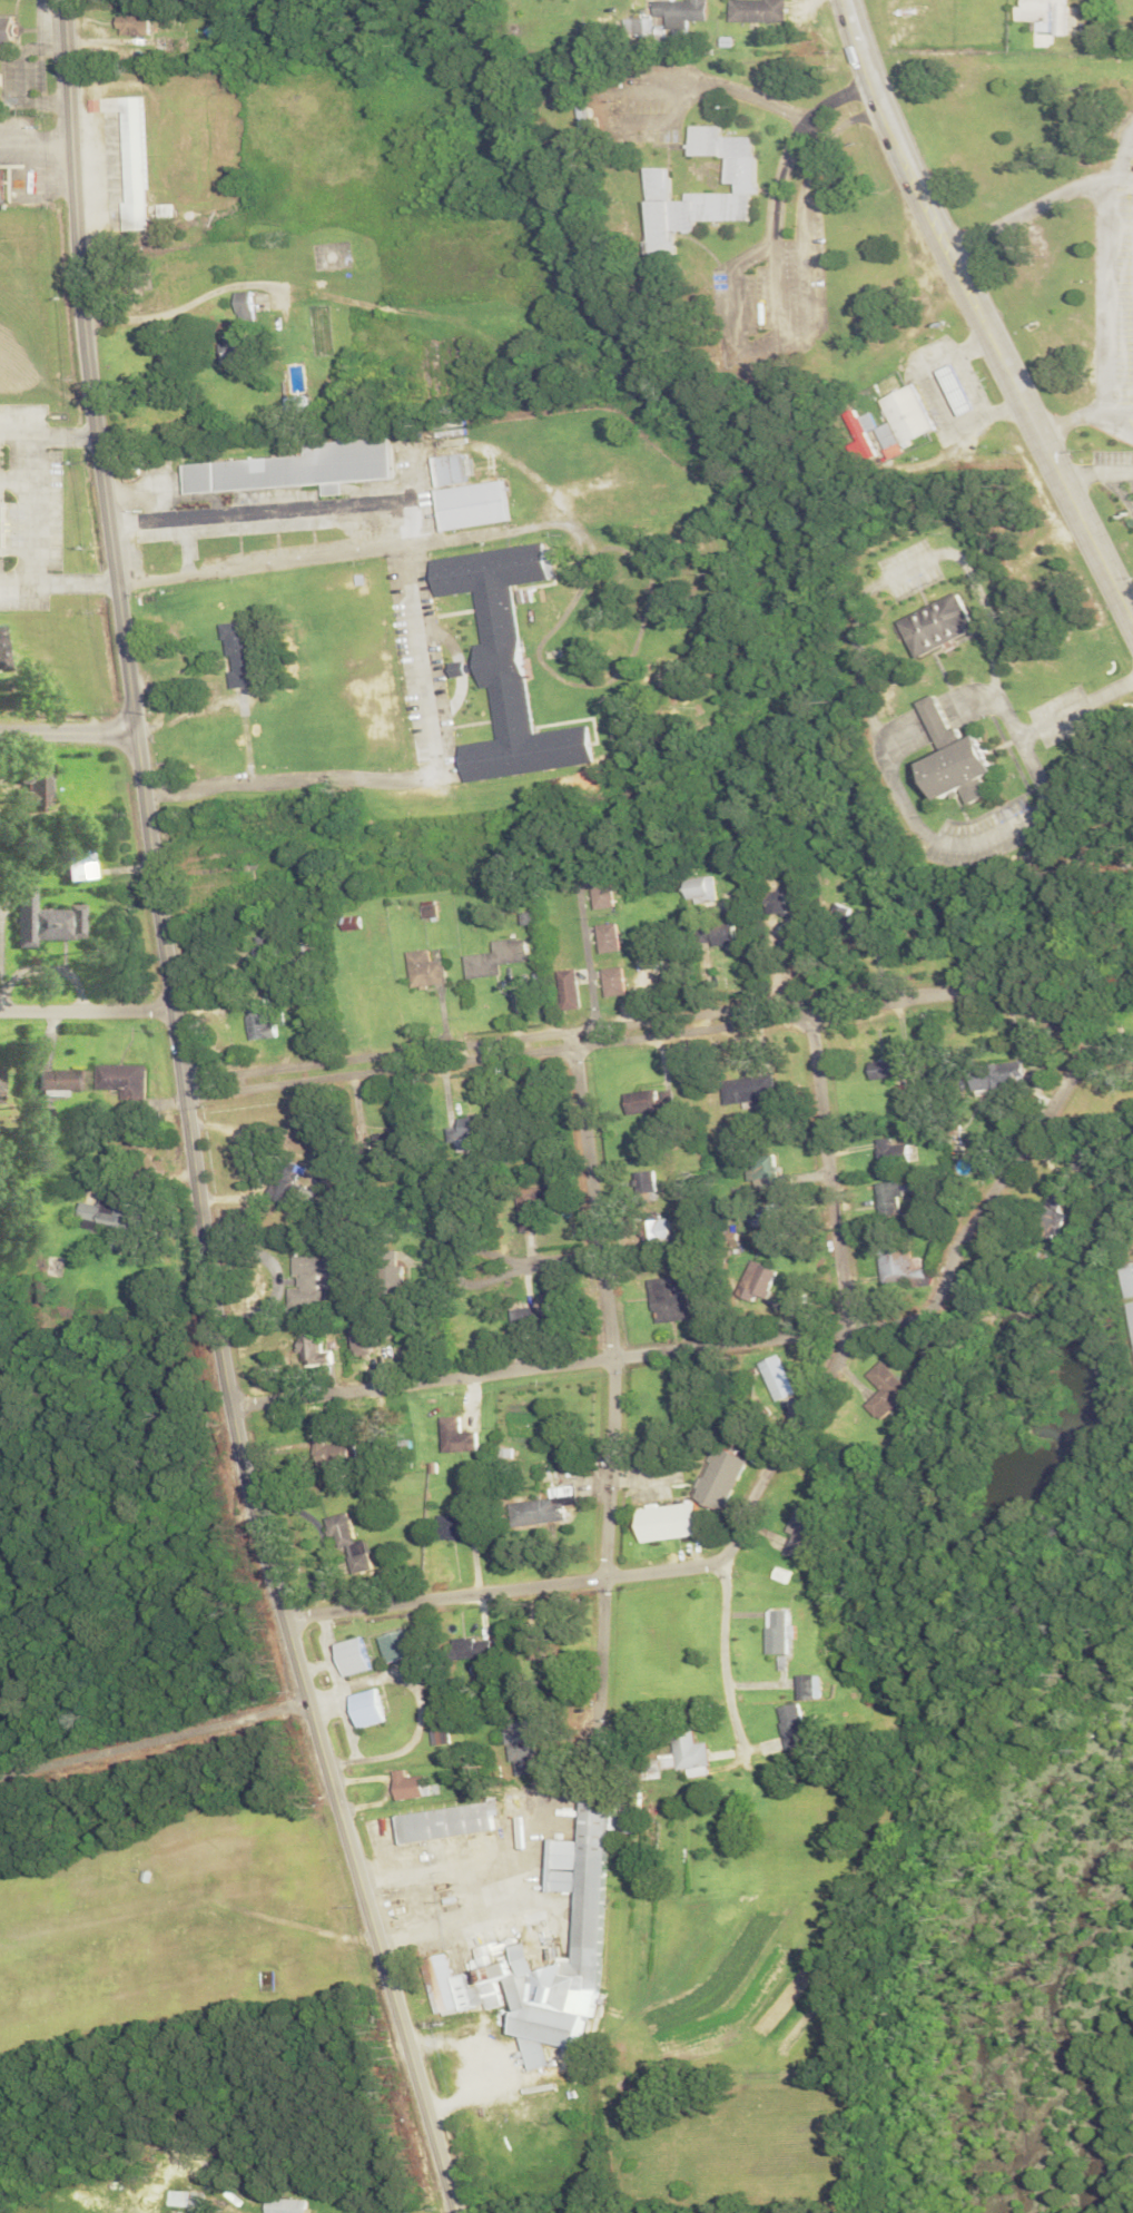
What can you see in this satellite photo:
road: (871, 70)
road: (969, 283)
road: (968, 380)
road: (938, 392)
road: (42, 437)
road: (427, 511)
road: (1087, 518)
road: (40, 545)
road: (68, 725)
road: (88, 1006)
road: (639, 1032)
road: (190, 1120)
road: (986, 1202)
road: (523, 1259)
road: (483, 1276)
road: (609, 1306)
road: (541, 1359)
road: (818, 1384)
road: (505, 1585)
road: (604, 1630)
road: (155, 1732)

